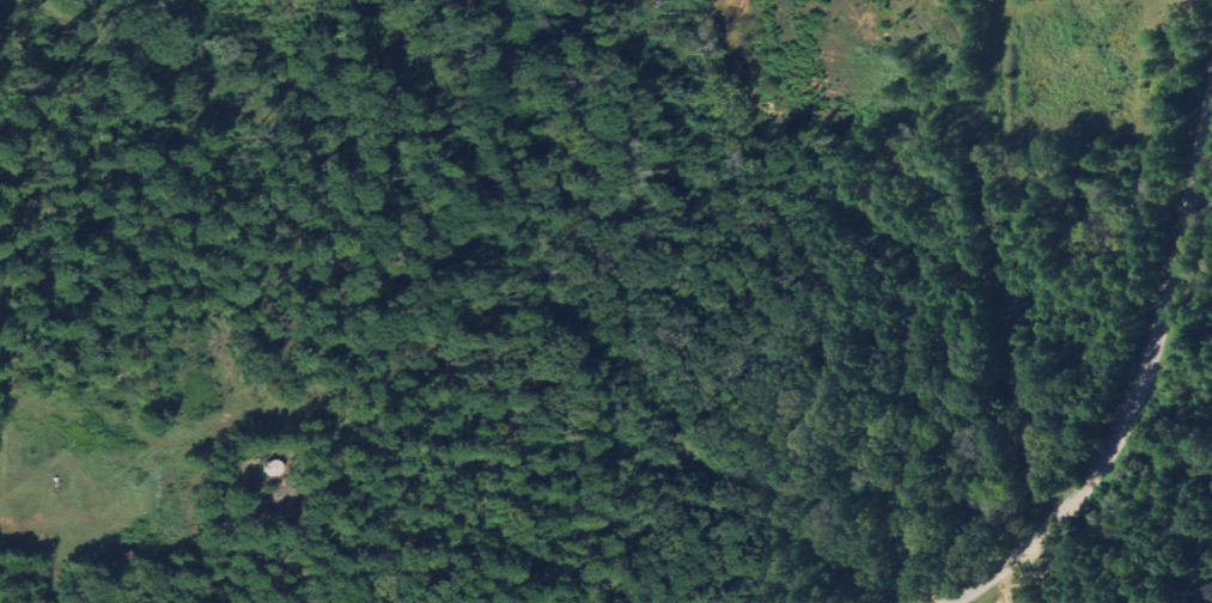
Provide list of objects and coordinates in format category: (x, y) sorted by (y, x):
road: (1140, 383)
road: (1013, 581)

